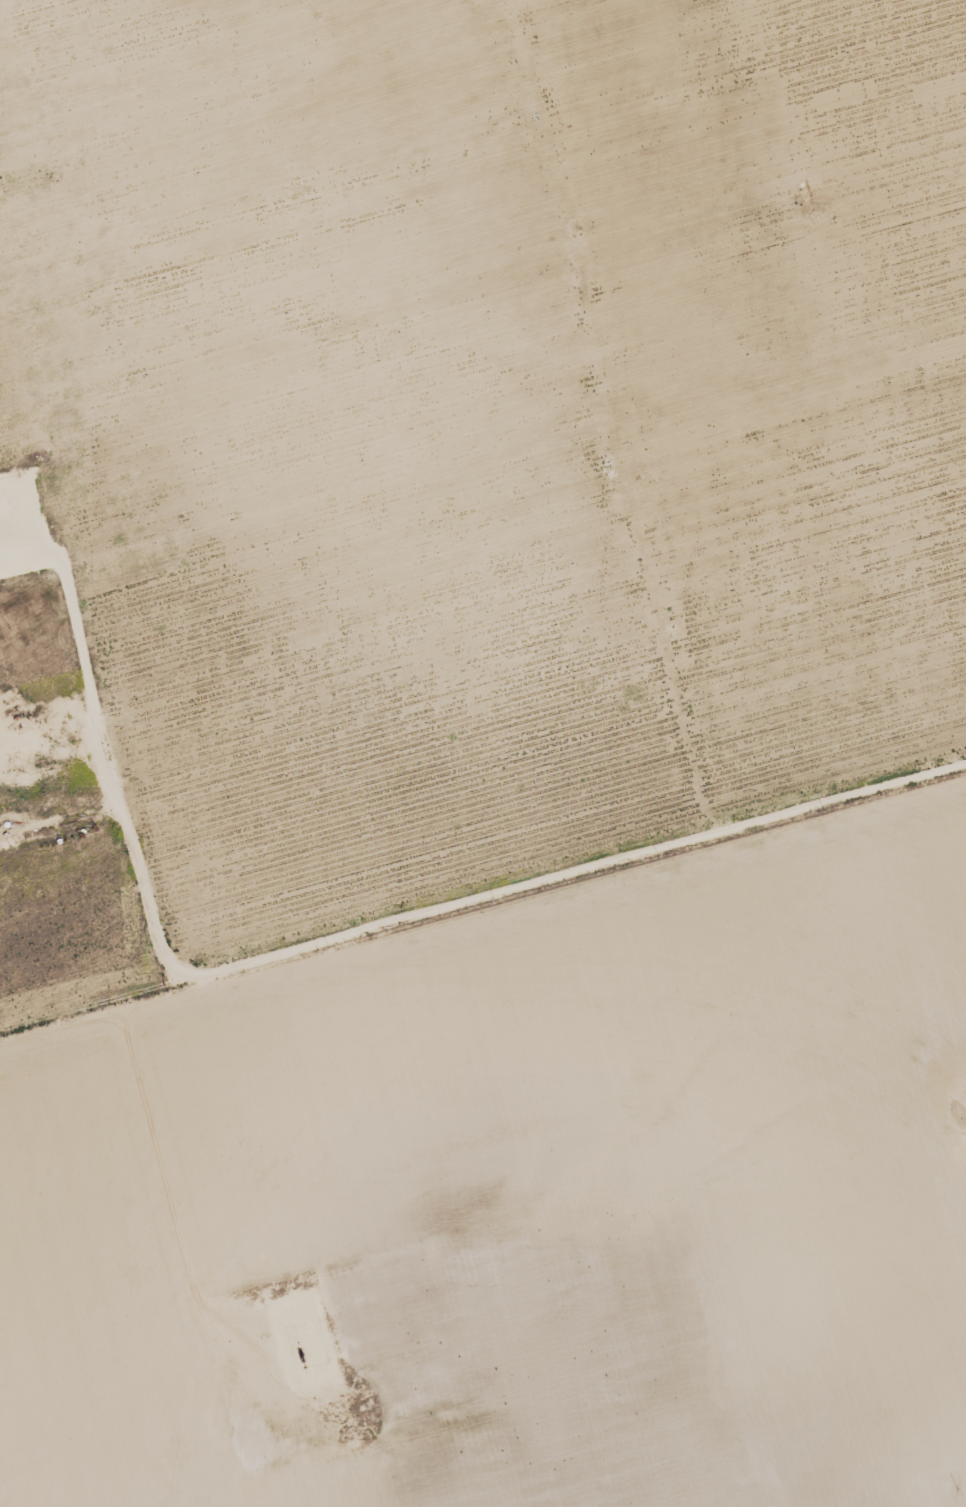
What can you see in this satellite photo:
road: (500, 885)

